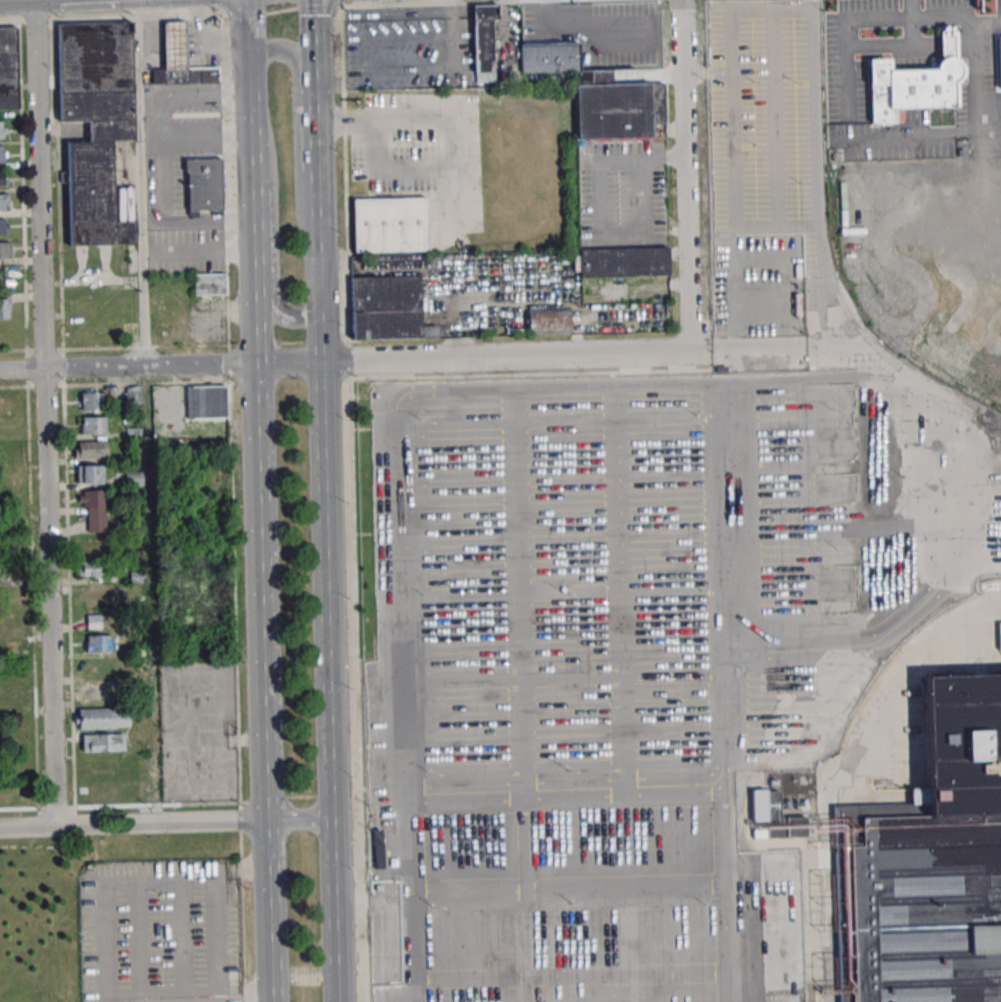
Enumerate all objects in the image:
road: (453, 2)
road: (340, 3)
road: (318, 6)
road: (222, 7)
road: (280, 10)
road: (243, 14)
road: (111, 19)
road: (452, 31)
building: (482, 37)
building: (173, 46)
building: (550, 57)
building: (8, 69)
building: (189, 76)
building: (910, 89)
road: (198, 91)
road: (248, 92)
building: (611, 112)
road: (315, 119)
building: (95, 125)
road: (296, 126)
building: (2, 131)
road: (199, 135)
building: (2, 154)
road: (150, 155)
road: (641, 158)
road: (687, 176)
building: (4, 178)
road: (39, 184)
building: (202, 184)
building: (4, 202)
road: (201, 218)
building: (388, 225)
building: (4, 227)
road: (273, 233)
road: (253, 235)
road: (620, 235)
building: (6, 250)
road: (204, 252)
building: (619, 262)
building: (207, 285)
building: (4, 308)
building: (384, 308)
building: (548, 321)
road: (708, 353)
road: (474, 358)
road: (150, 366)
road: (22, 370)
building: (133, 393)
building: (92, 401)
building: (207, 402)
building: (5, 403)
road: (146, 412)
building: (92, 425)
building: (92, 449)
building: (89, 474)
building: (132, 478)
building: (94, 509)
building: (94, 547)
building: (89, 568)
building: (136, 593)
road: (49, 598)
road: (328, 620)
building: (7, 621)
building: (93, 621)
building: (1000, 635)
road: (264, 643)
building: (97, 644)
parking lot: (598, 671)
building: (91, 692)
building: (10, 694)
building: (102, 718)
building: (101, 742)
building: (101, 765)
road: (300, 824)
road: (134, 826)
building: (379, 843)
building: (930, 865)
road: (103, 883)
road: (224, 912)
park: (40, 923)
parking lot: (161, 929)
road: (250, 999)

